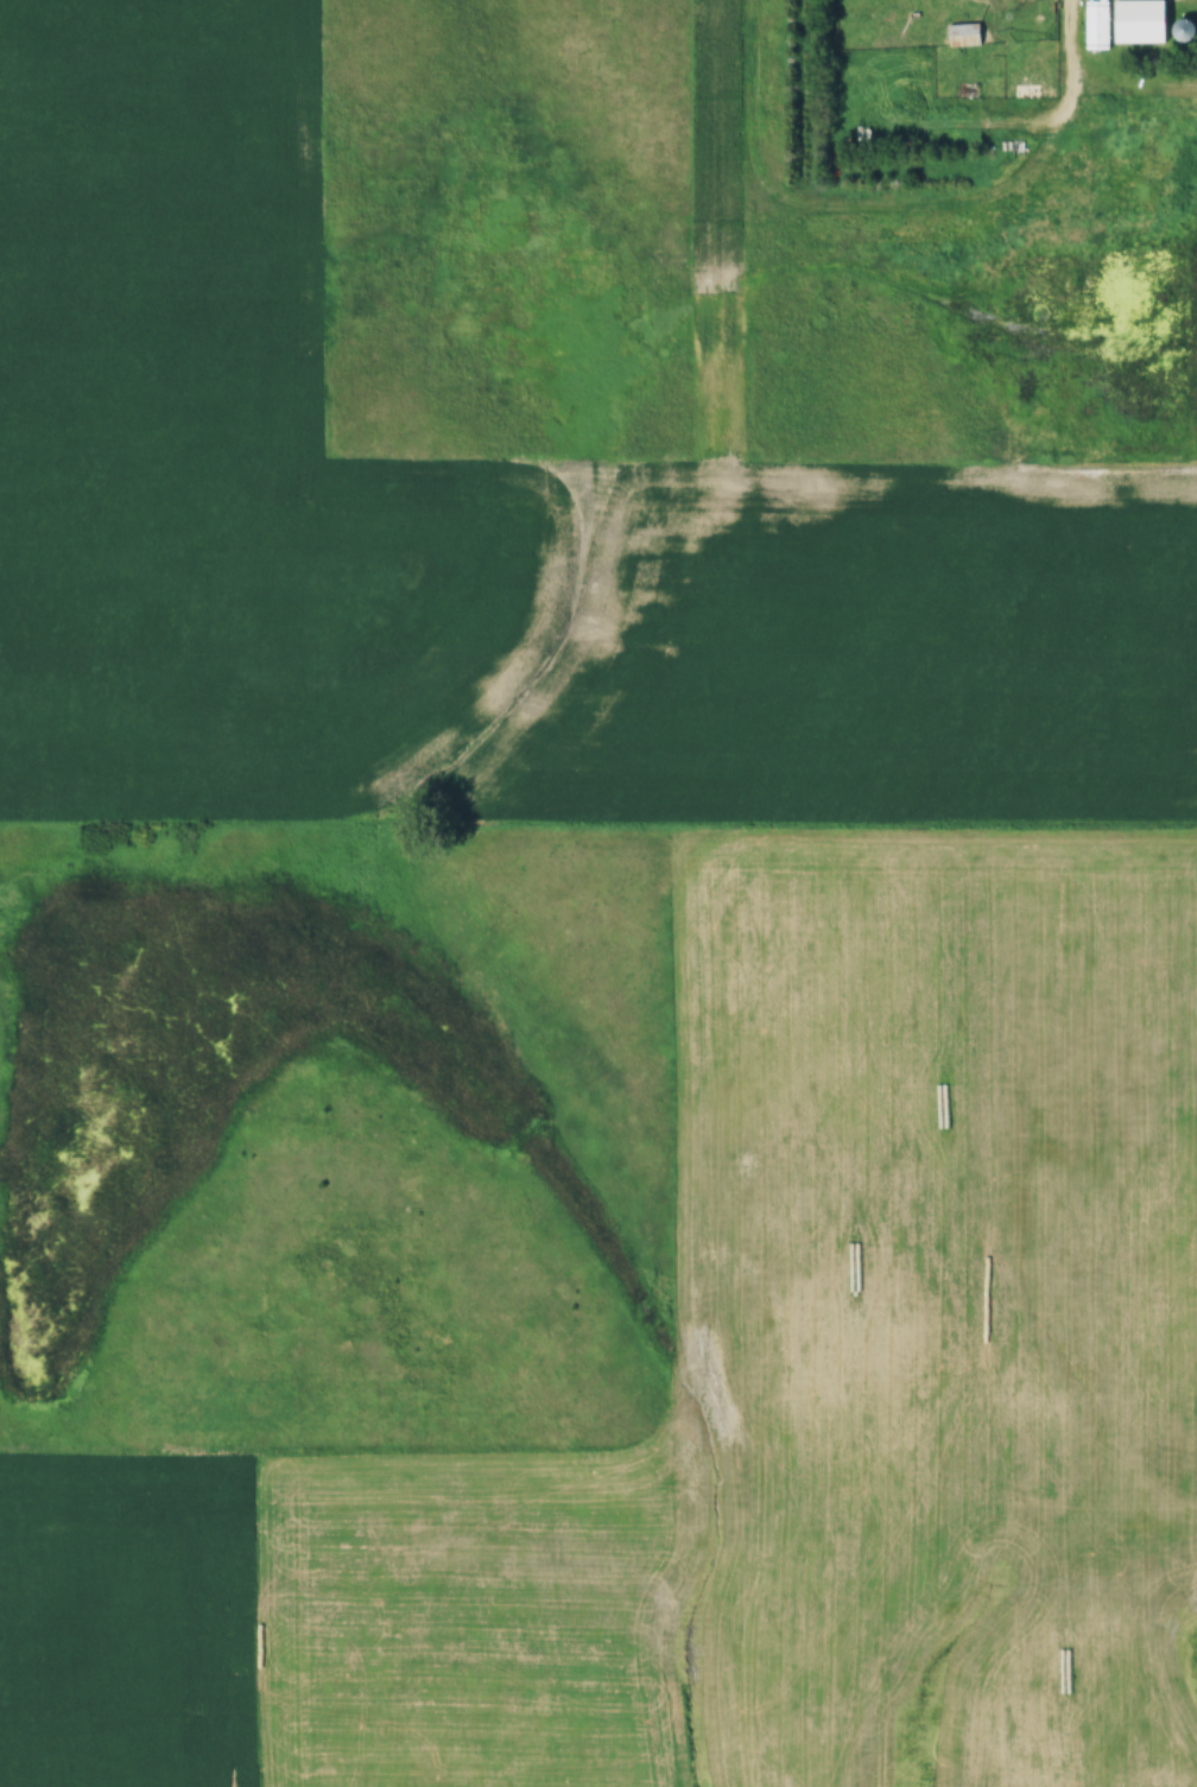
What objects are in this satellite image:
building: (1142, 23)
building: (1097, 26)
building: (965, 36)
building: (1027, 78)

